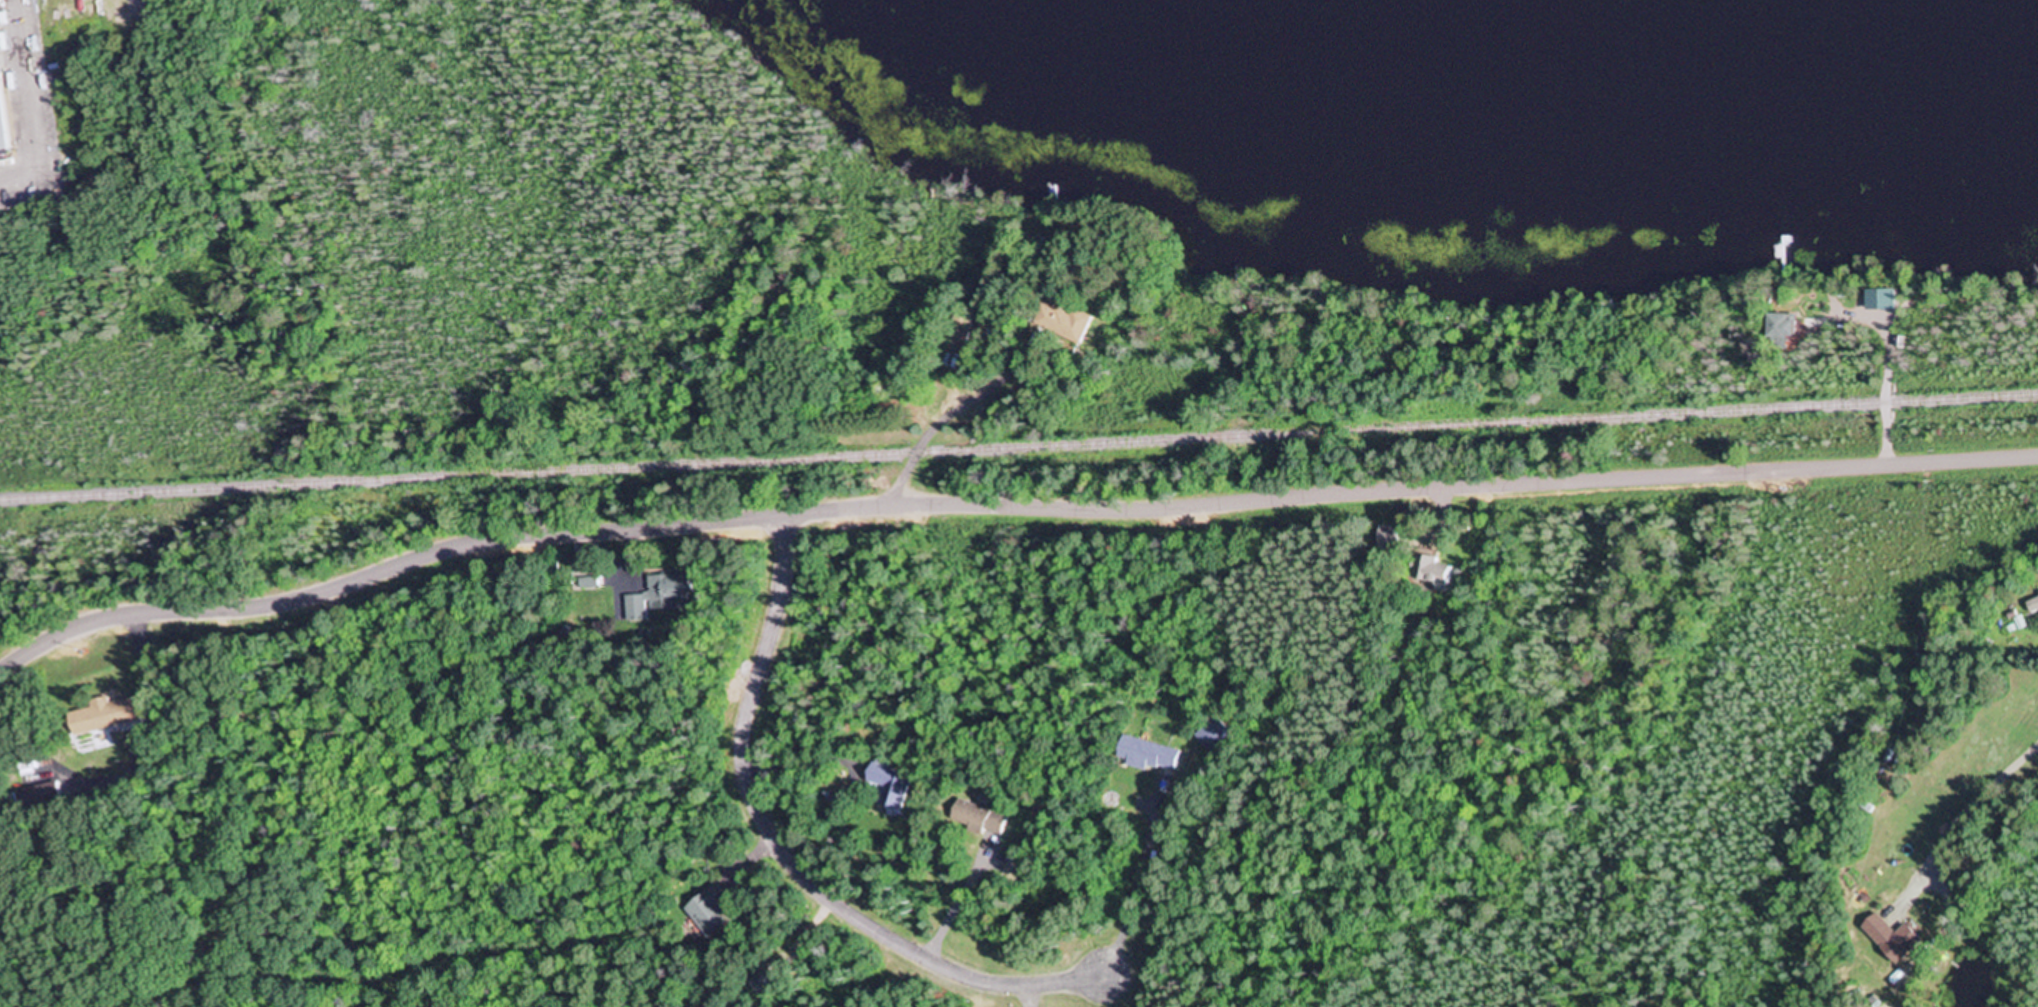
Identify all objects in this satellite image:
building: (2, 129)
building: (1059, 322)
building: (962, 324)
building: (1778, 327)
road: (939, 426)
railway: (1019, 449)
road: (1006, 508)
building: (1432, 572)
building: (658, 598)
building: (2032, 606)
building: (105, 716)
building: (1147, 756)
building: (888, 783)
building: (978, 820)
road: (792, 862)
building: (709, 913)
building: (1890, 938)
building: (759, 984)

